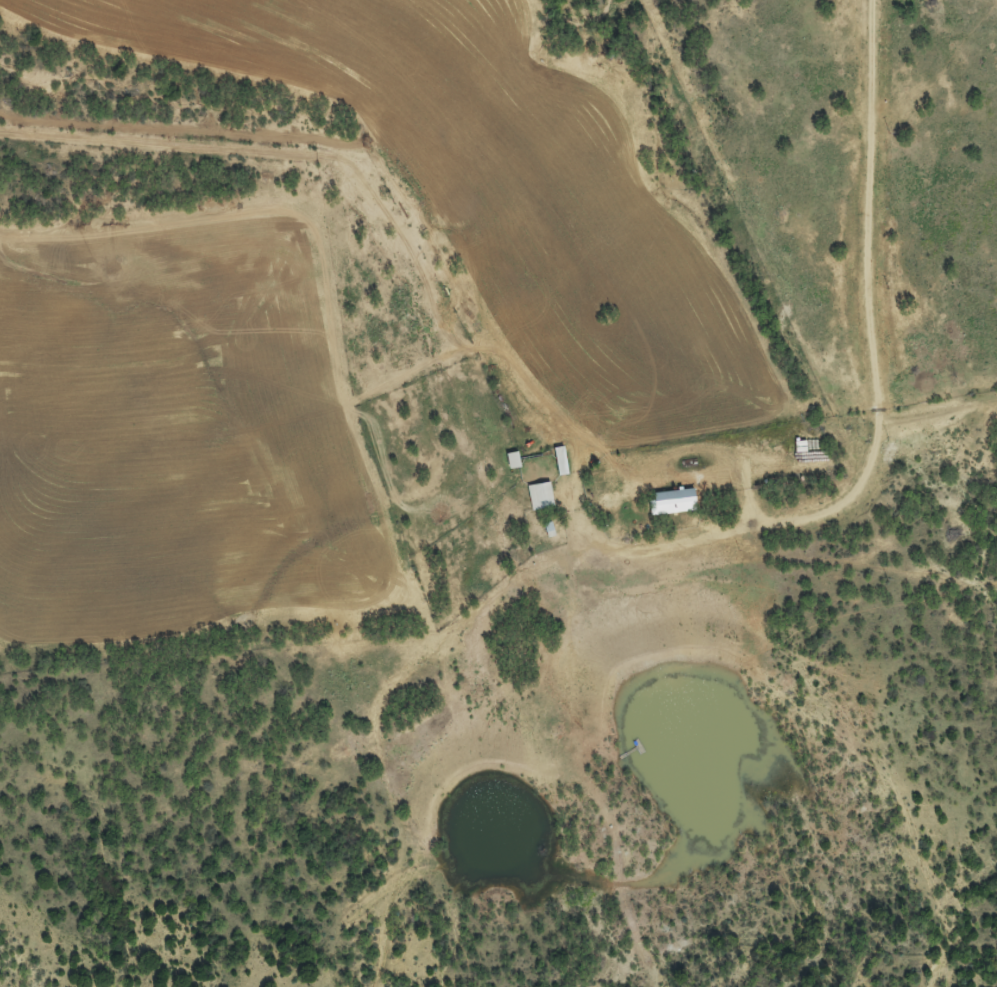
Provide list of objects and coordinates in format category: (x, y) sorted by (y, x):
road: (874, 386)
building: (515, 468)
building: (562, 468)
building: (541, 504)
building: (674, 509)

